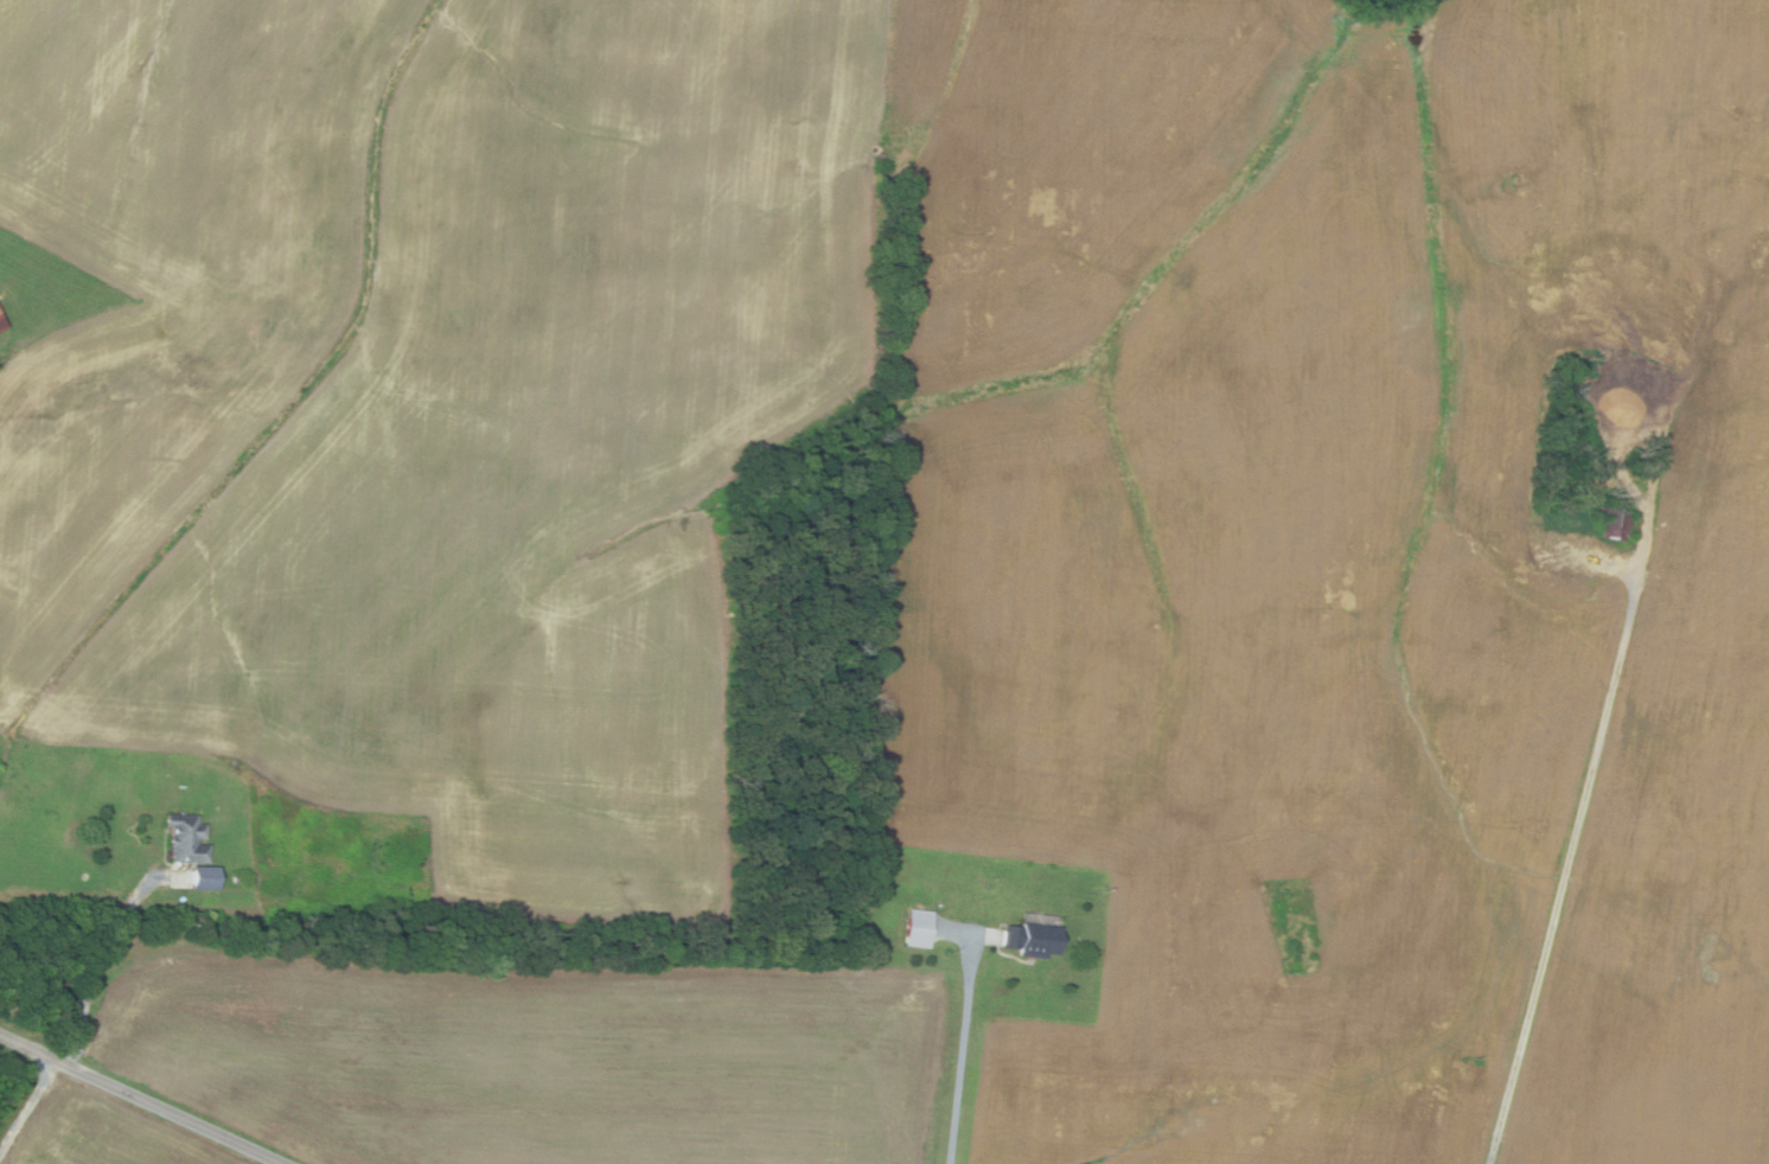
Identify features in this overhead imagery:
building: (1, 324)
crop: (427, 401)
building: (74, 430)
building: (1616, 523)
crop: (1336, 563)
building: (185, 839)
road: (1571, 851)
building: (204, 878)
building: (237, 880)
building: (918, 929)
building: (1030, 940)
road: (98, 970)
road: (963, 1049)
crop: (536, 1057)
road: (140, 1099)
road: (28, 1105)
crop: (102, 1134)

